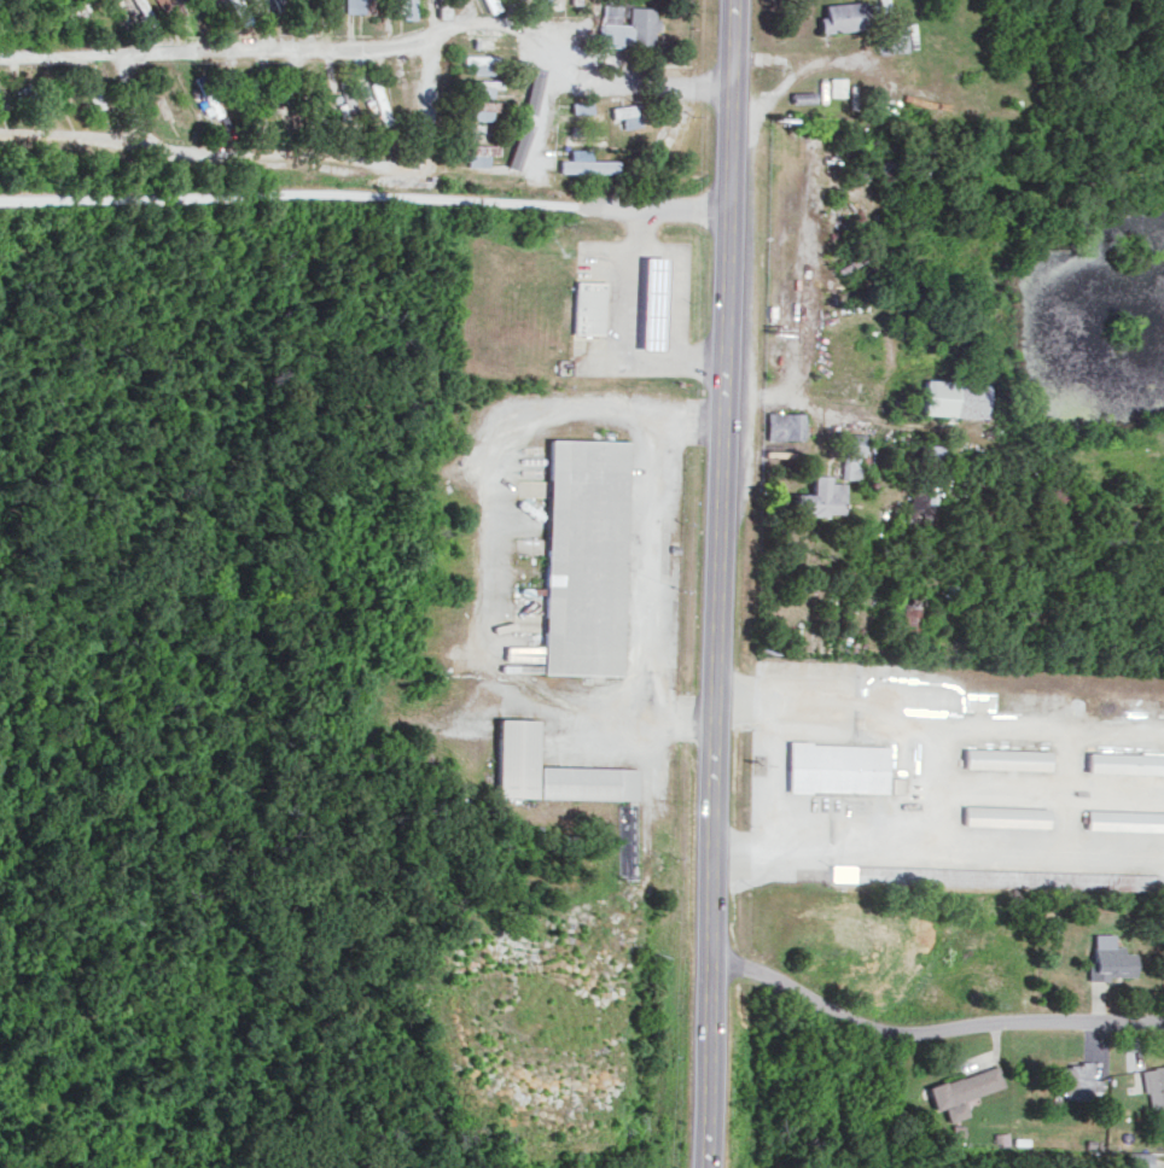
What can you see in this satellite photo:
building: (485, 1)
building: (357, 5)
building: (402, 7)
building: (238, 11)
building: (842, 16)
building: (627, 24)
building: (891, 42)
road: (351, 46)
building: (481, 58)
building: (343, 86)
building: (485, 86)
building: (834, 86)
building: (205, 94)
building: (378, 101)
building: (580, 106)
building: (482, 109)
building: (629, 113)
road: (426, 115)
road: (215, 152)
building: (478, 152)
building: (587, 162)
road: (365, 195)
building: (650, 300)
building: (587, 305)
building: (953, 396)
building: (785, 424)
building: (851, 455)
building: (821, 495)
building: (583, 555)
road: (650, 570)
road: (722, 584)
building: (909, 615)
building: (1006, 758)
building: (1125, 761)
building: (840, 767)
building: (551, 769)
building: (1005, 814)
building: (1124, 819)
building: (862, 872)
building: (1110, 957)
road: (932, 1034)
building: (1076, 1080)
building: (1154, 1088)
building: (964, 1090)

